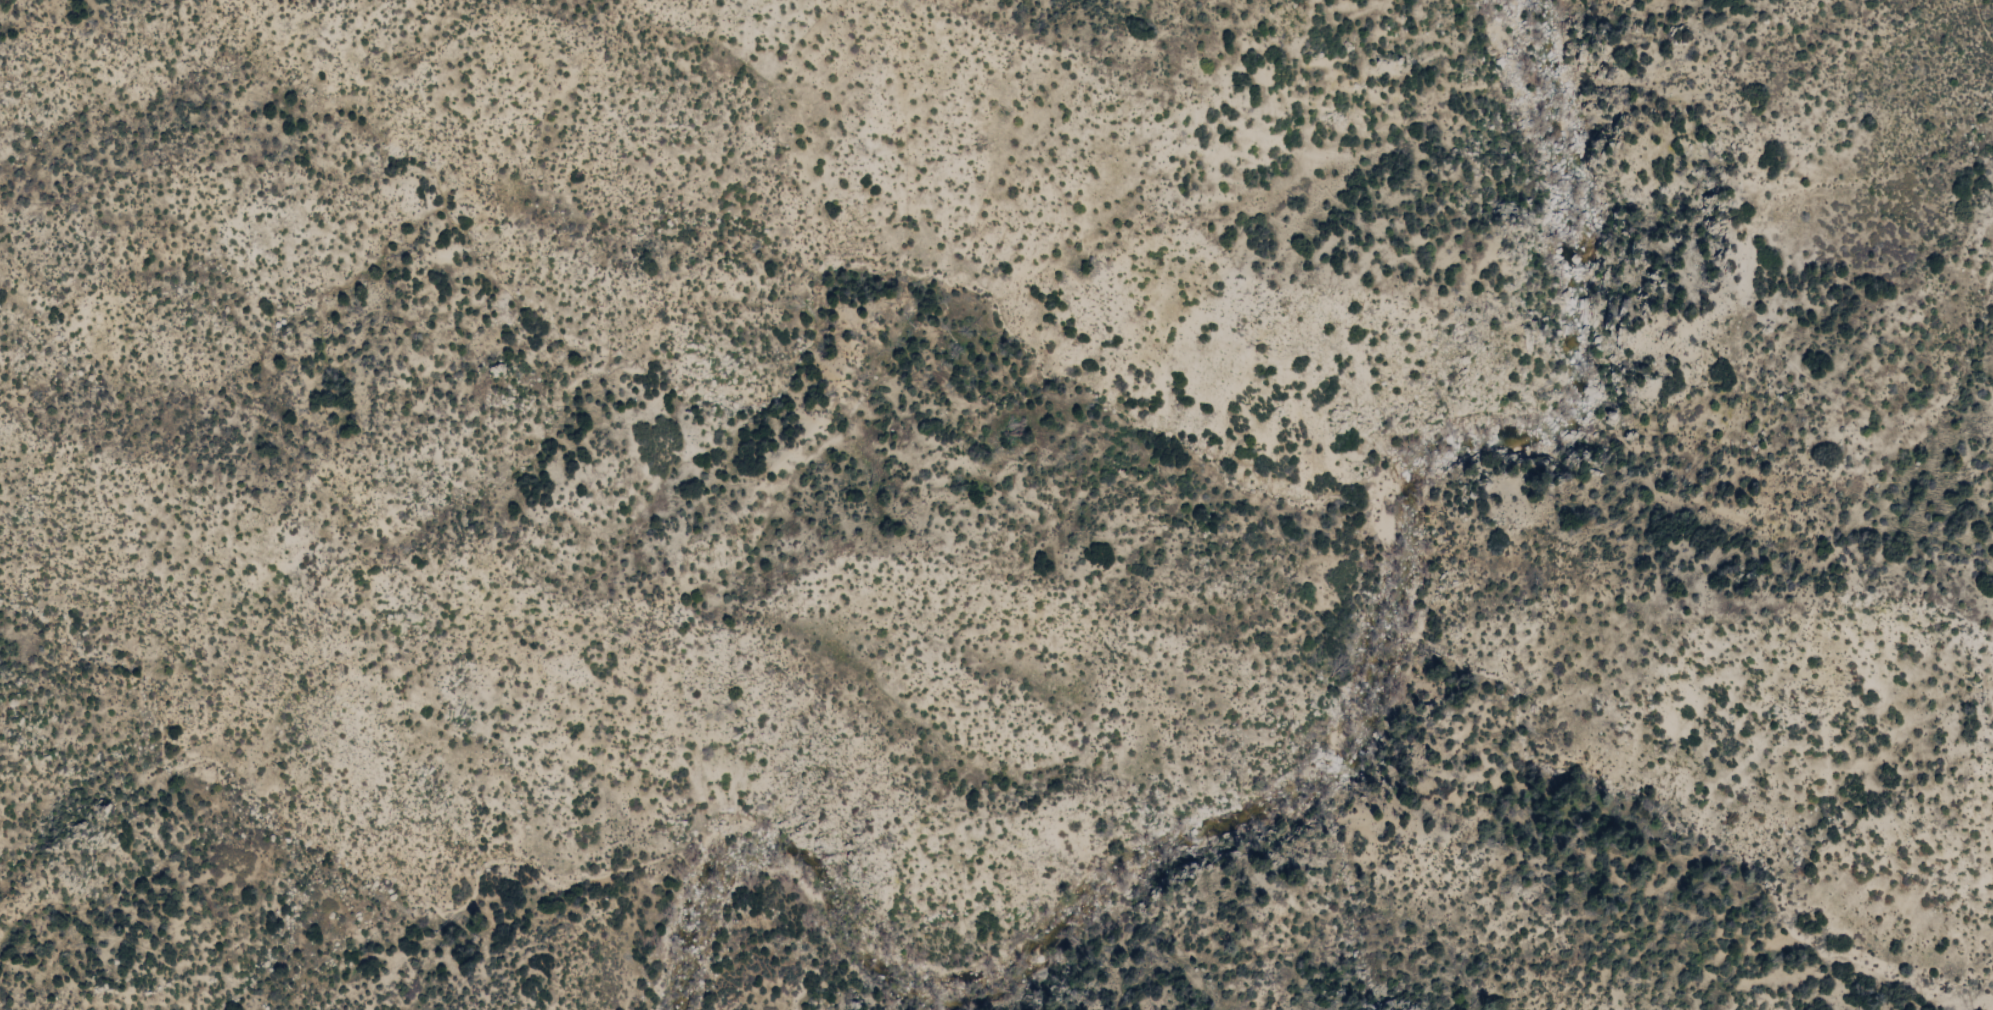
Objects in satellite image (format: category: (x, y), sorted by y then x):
road: (1987, 12)

